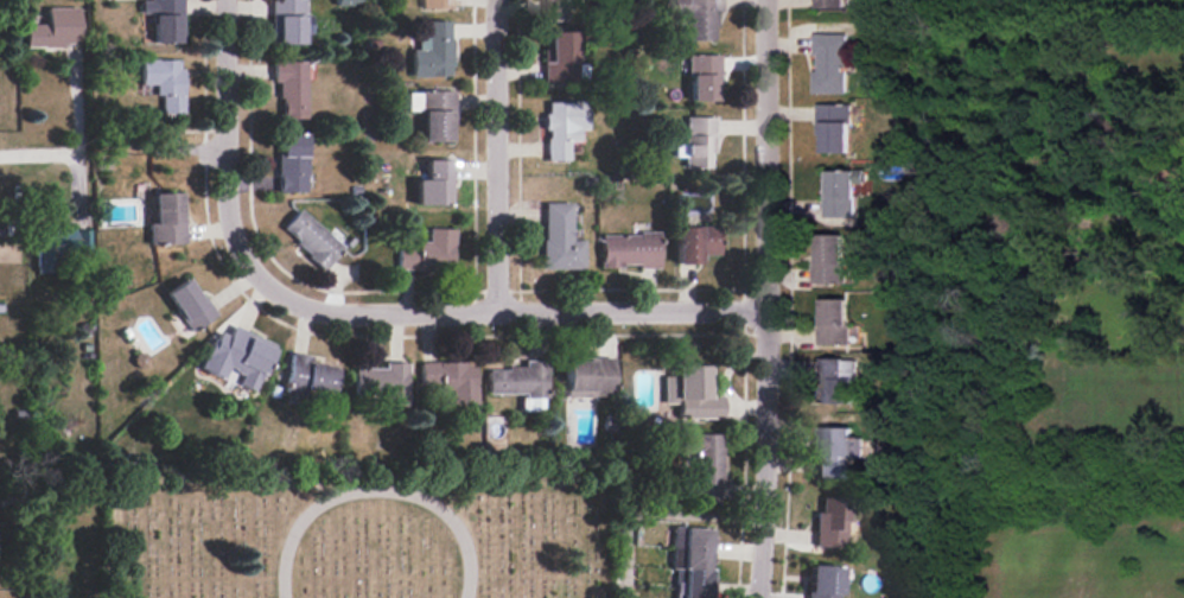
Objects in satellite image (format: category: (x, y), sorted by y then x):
building: (435, 4)
building: (828, 4)
building: (555, 9)
building: (699, 17)
building: (164, 19)
building: (286, 21)
building: (53, 28)
building: (432, 50)
building: (558, 57)
building: (829, 63)
road: (222, 77)
building: (702, 77)
building: (163, 81)
building: (289, 87)
building: (432, 113)
building: (834, 126)
building: (561, 127)
building: (698, 142)
road: (39, 153)
road: (492, 153)
building: (291, 163)
building: (433, 183)
building: (841, 196)
building: (165, 218)
building: (310, 237)
building: (559, 237)
building: (695, 242)
building: (630, 249)
building: (428, 250)
building: (829, 260)
road: (764, 299)
building: (189, 303)
road: (441, 307)
building: (833, 320)
building: (237, 356)
building: (141, 360)
building: (307, 375)
building: (588, 376)
building: (835, 378)
building: (450, 380)
building: (382, 383)
building: (520, 383)
building: (690, 392)
building: (830, 450)
building: (704, 464)
road: (373, 489)
building: (830, 522)
park: (357, 535)
building: (692, 559)
building: (823, 581)

